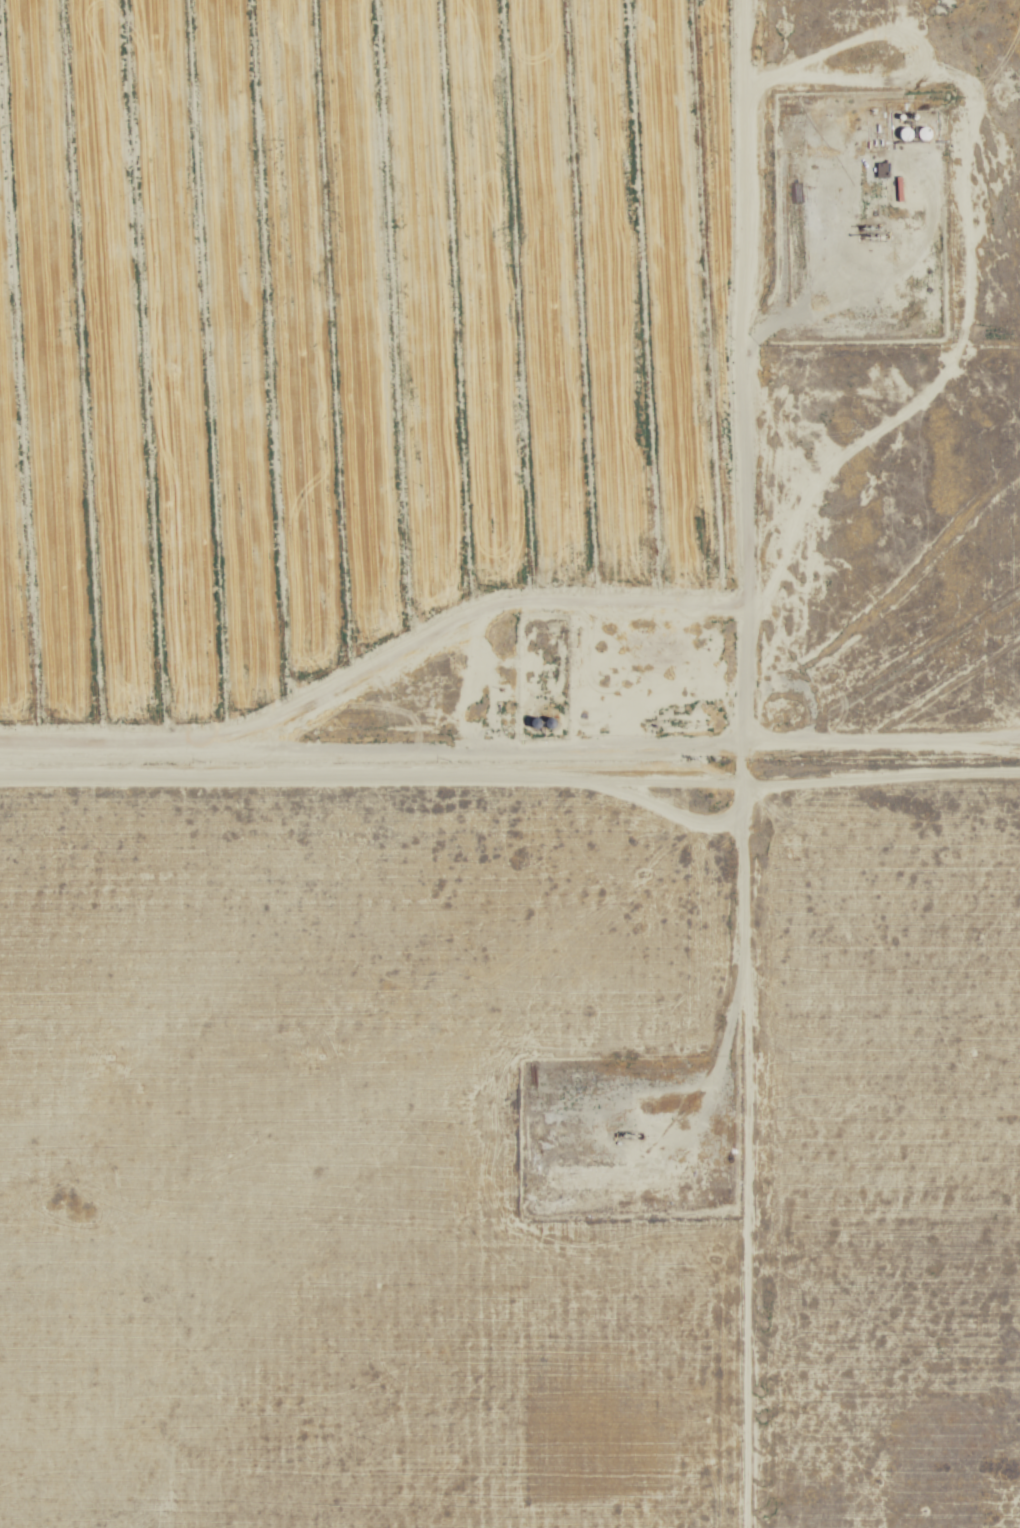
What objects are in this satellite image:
road: (878, 356)
road: (741, 763)
road: (509, 782)

